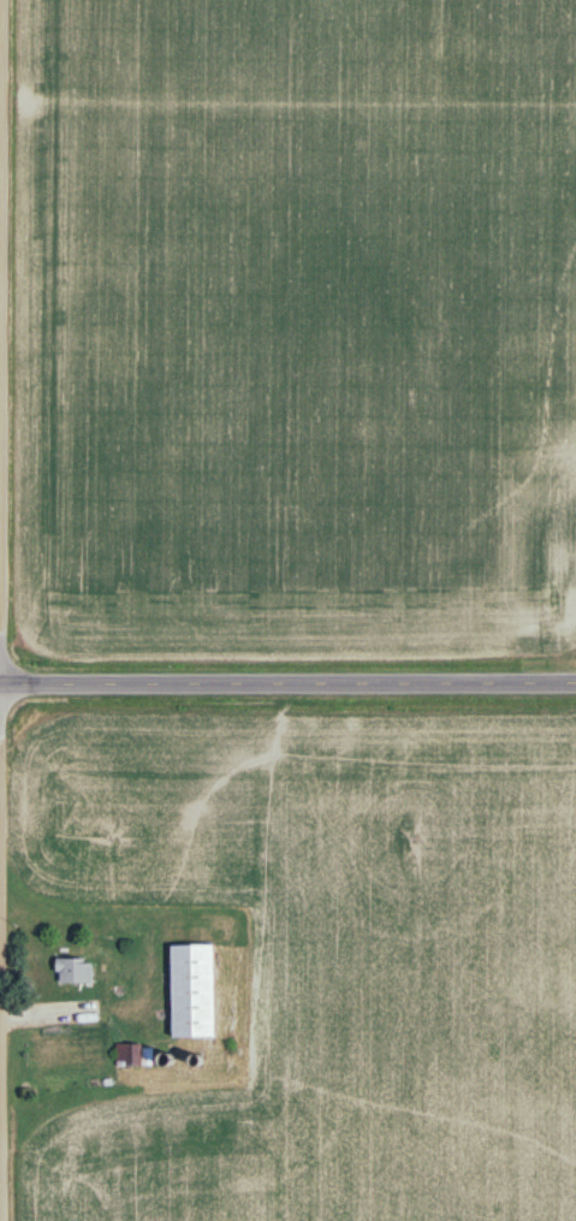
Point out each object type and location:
building: (557, 558)
road: (287, 680)
building: (75, 972)
building: (194, 992)
building: (131, 1057)

